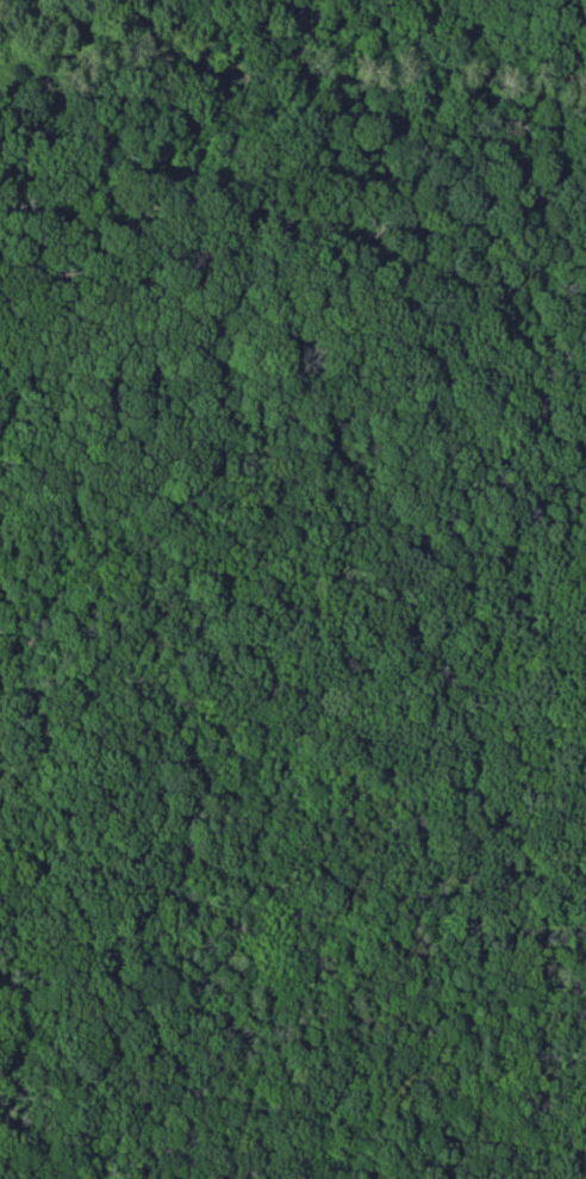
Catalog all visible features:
road: (362, 284)
park: (293, 589)
park: (293, 589)
road: (0, 969)
road: (403, 1009)

